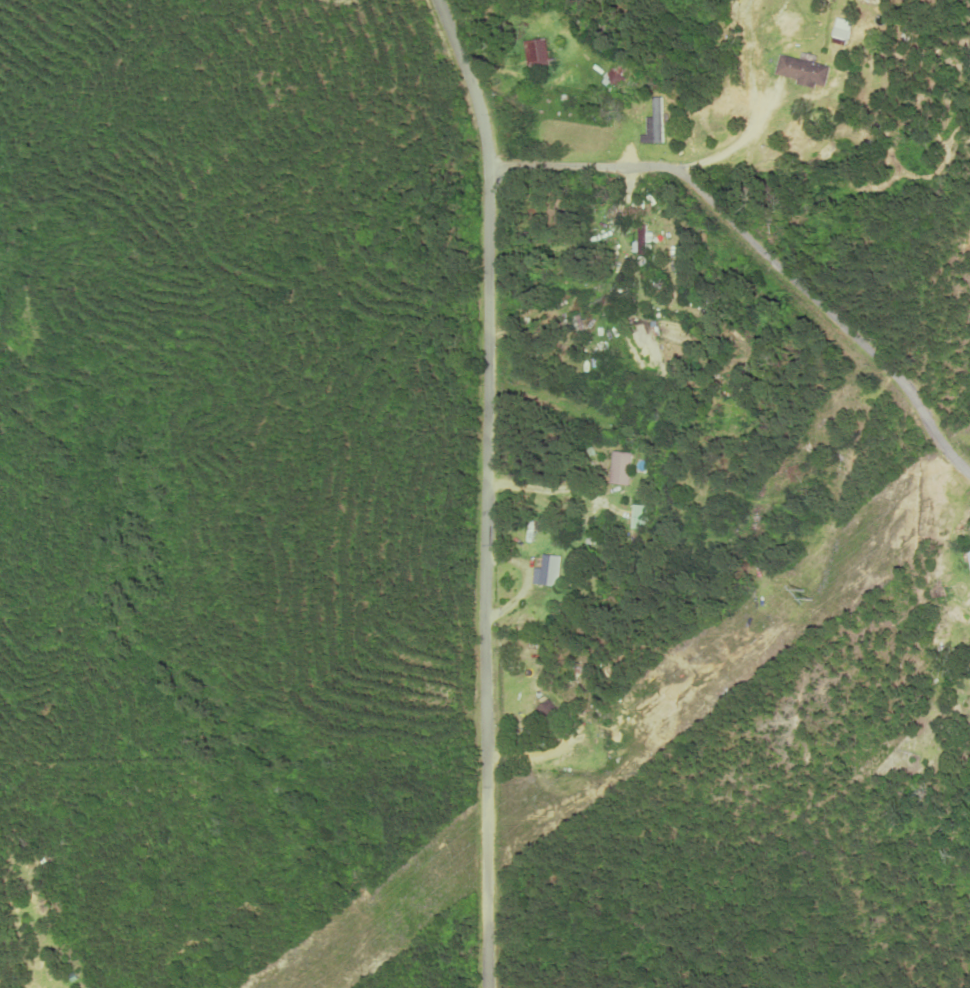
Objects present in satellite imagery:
building: (843, 37)
road: (451, 39)
building: (537, 54)
building: (808, 71)
building: (617, 79)
building: (560, 210)
building: (644, 241)
road: (762, 247)
building: (626, 470)
road: (518, 483)
road: (493, 531)
power tower: (885, 542)
building: (705, 570)
building: (554, 572)
building: (553, 711)

